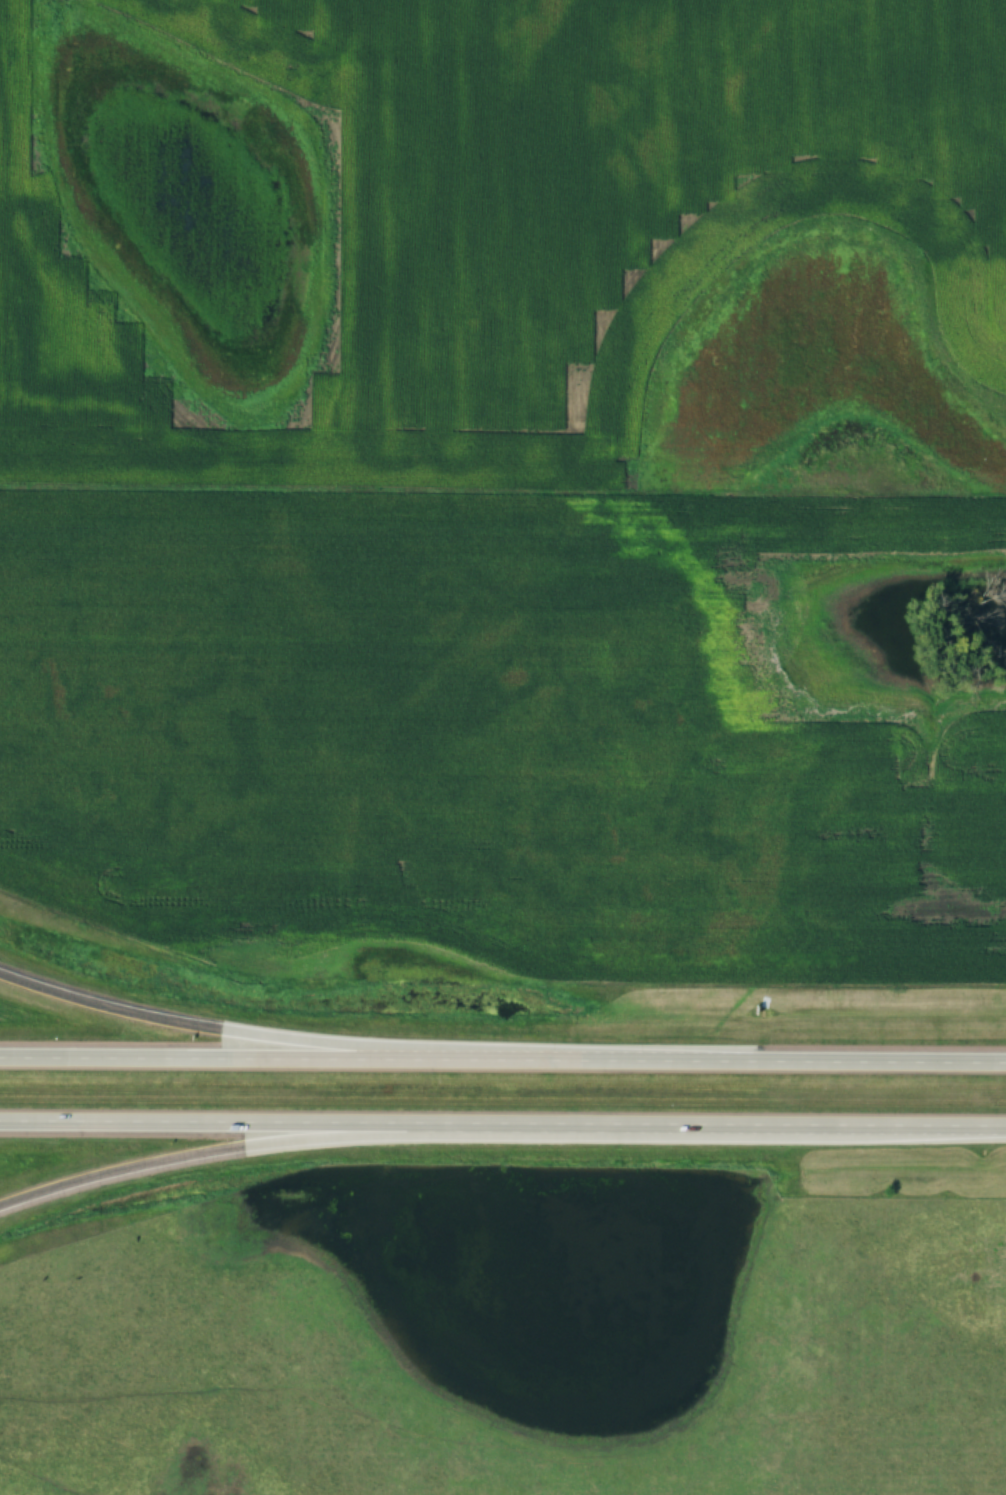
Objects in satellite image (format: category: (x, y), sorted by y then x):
crop: (498, 736)
road: (250, 1033)
road: (503, 1057)
road: (502, 1122)
road: (294, 1140)

